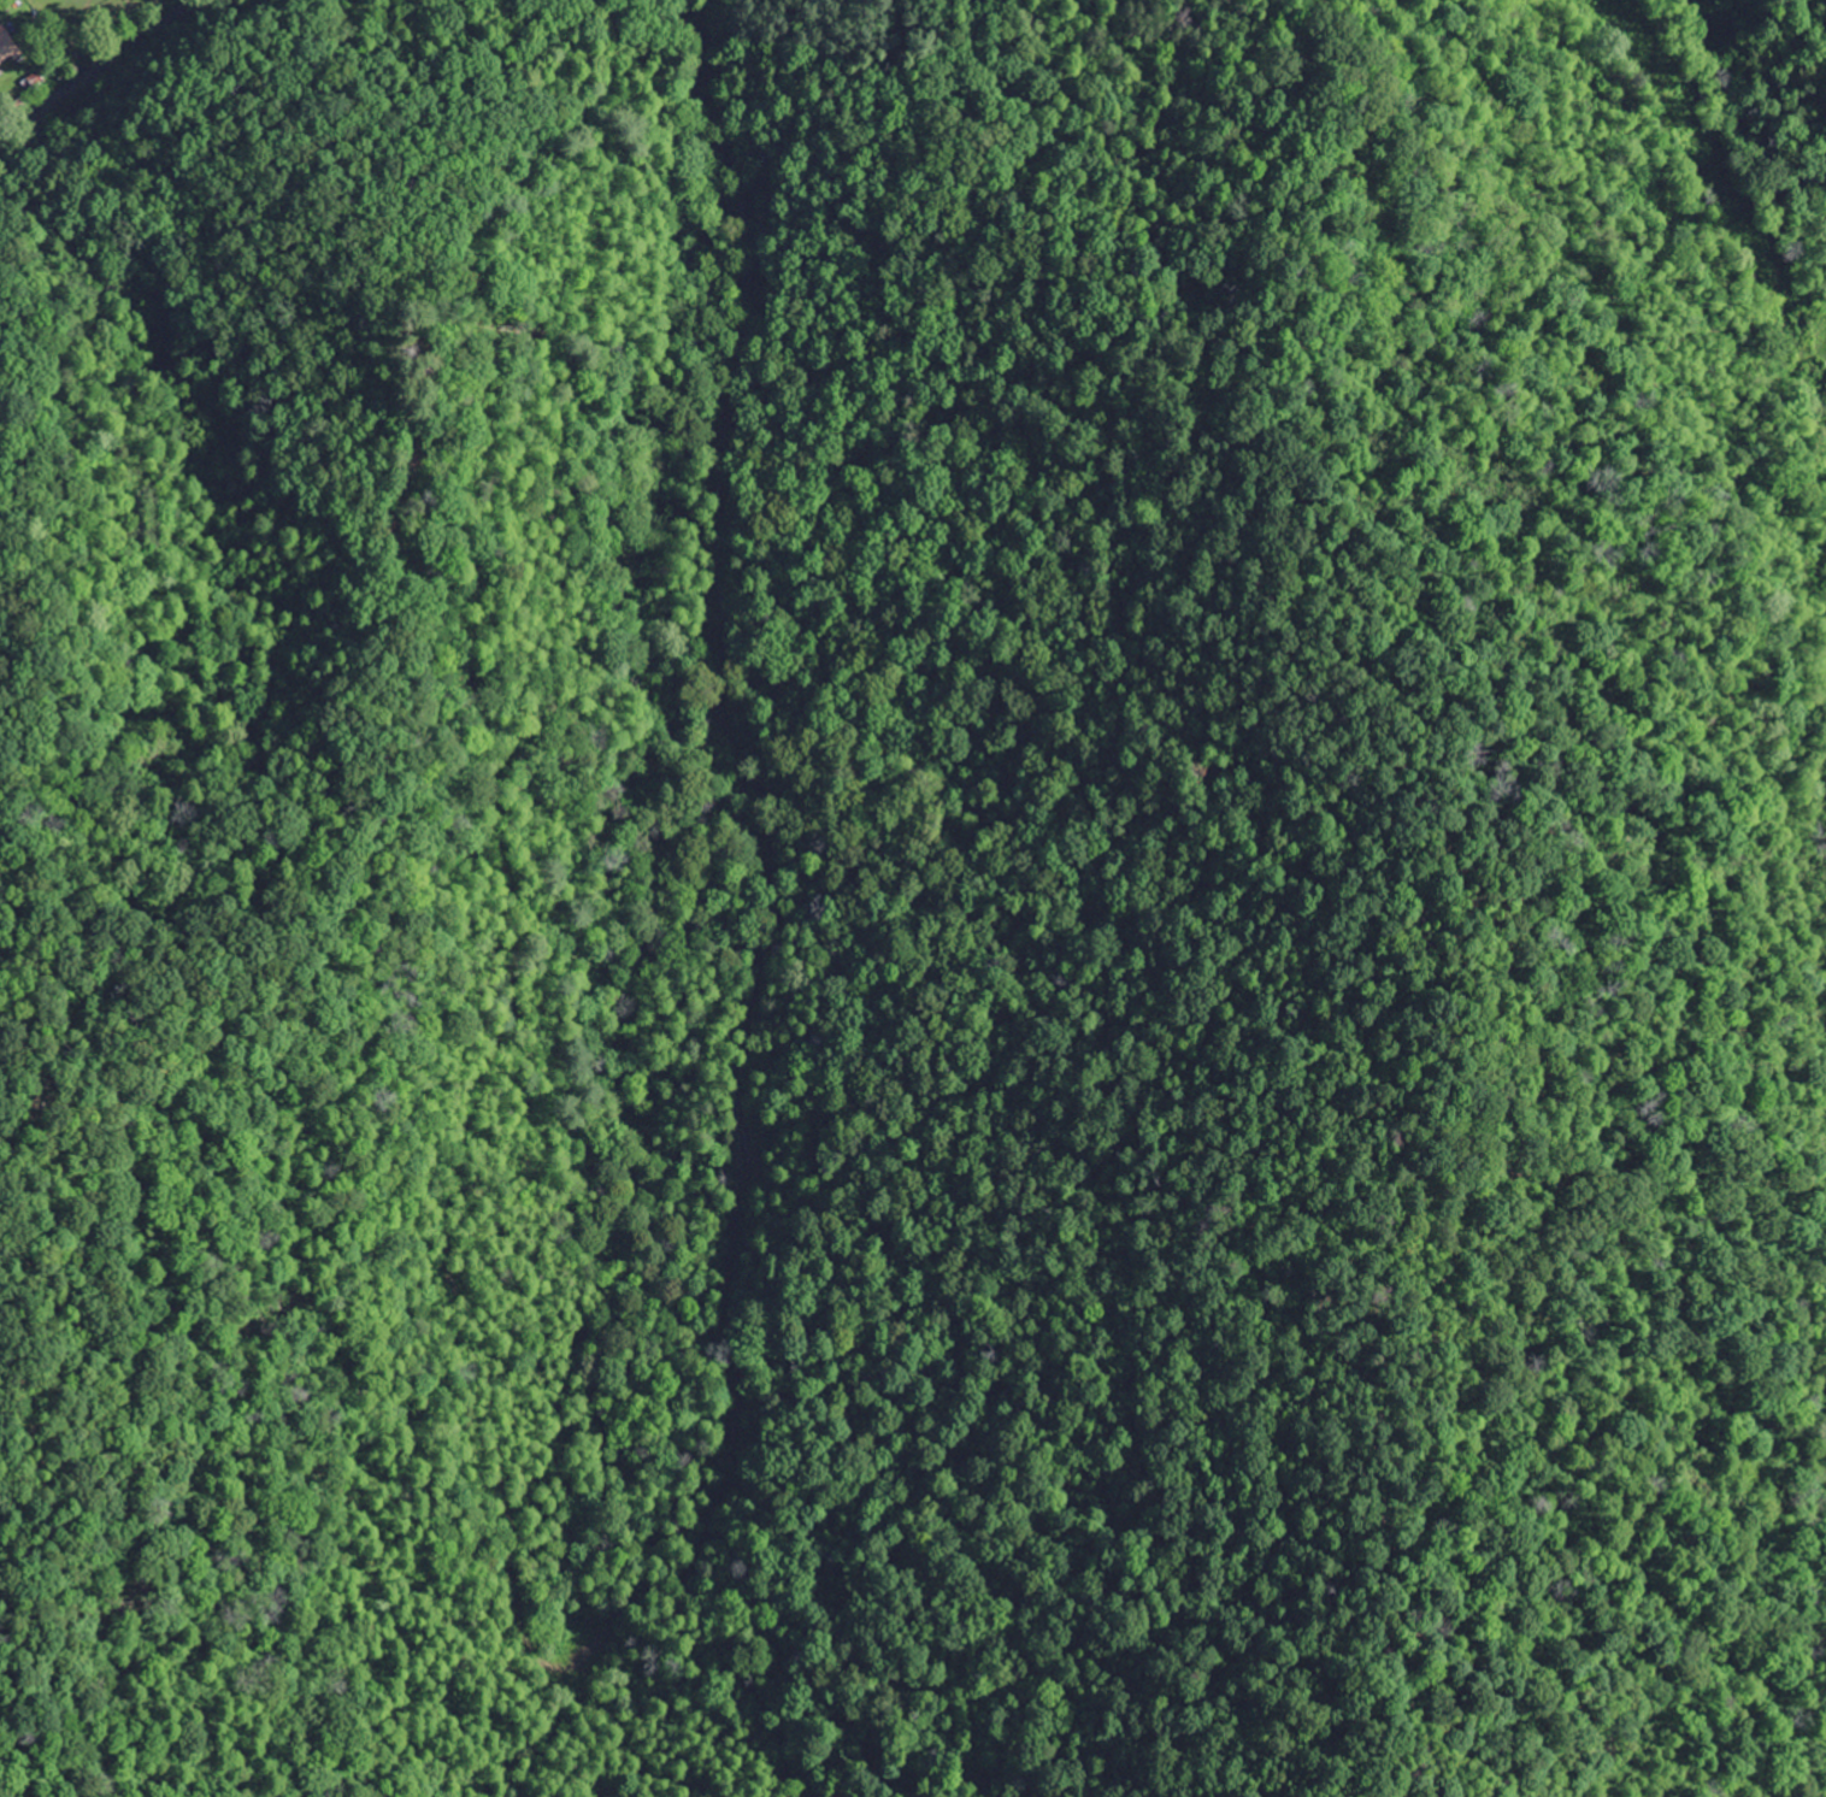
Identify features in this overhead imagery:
building: (8, 49)
road: (1665, 220)

